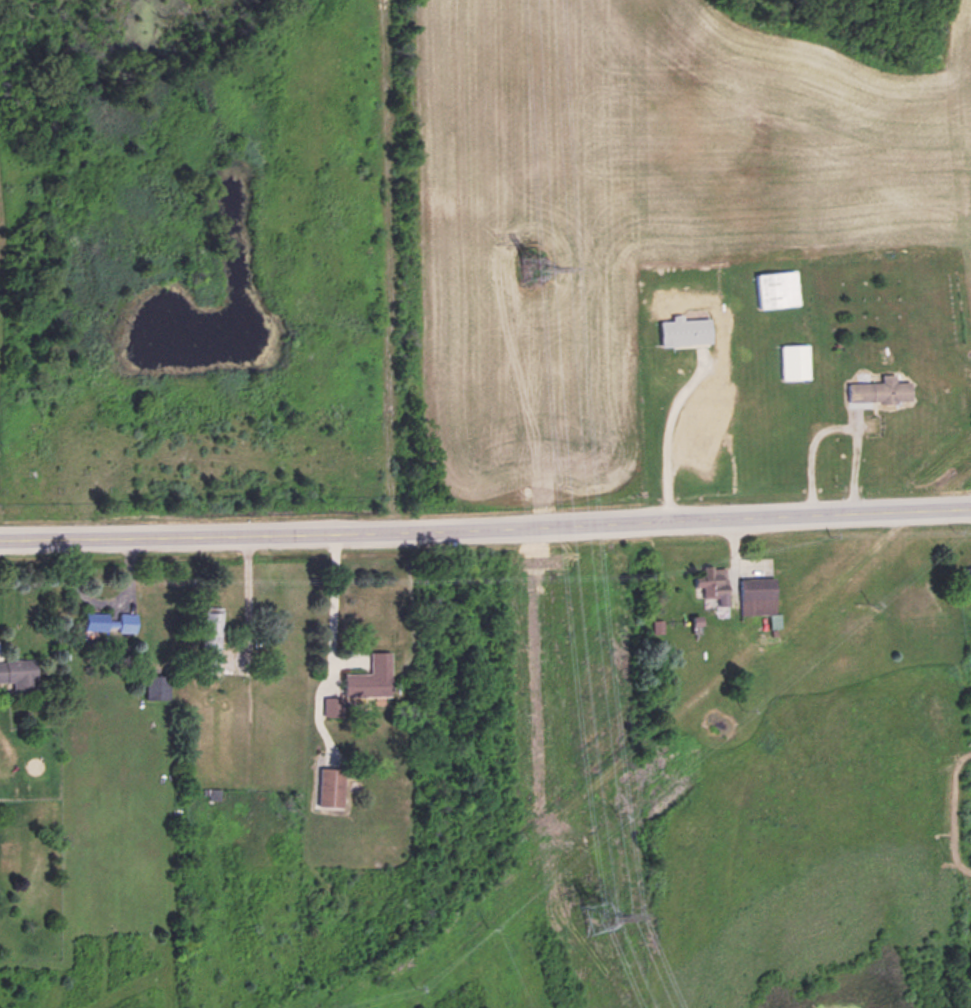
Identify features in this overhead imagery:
road: (384, 263)
power tower: (537, 265)
building: (779, 288)
building: (687, 329)
building: (797, 360)
building: (882, 389)
road: (661, 430)
road: (485, 525)
building: (716, 589)
building: (760, 594)
road: (327, 603)
building: (111, 621)
building: (214, 626)
building: (20, 673)
building: (364, 683)
building: (159, 686)
building: (333, 785)
power tower: (601, 917)

